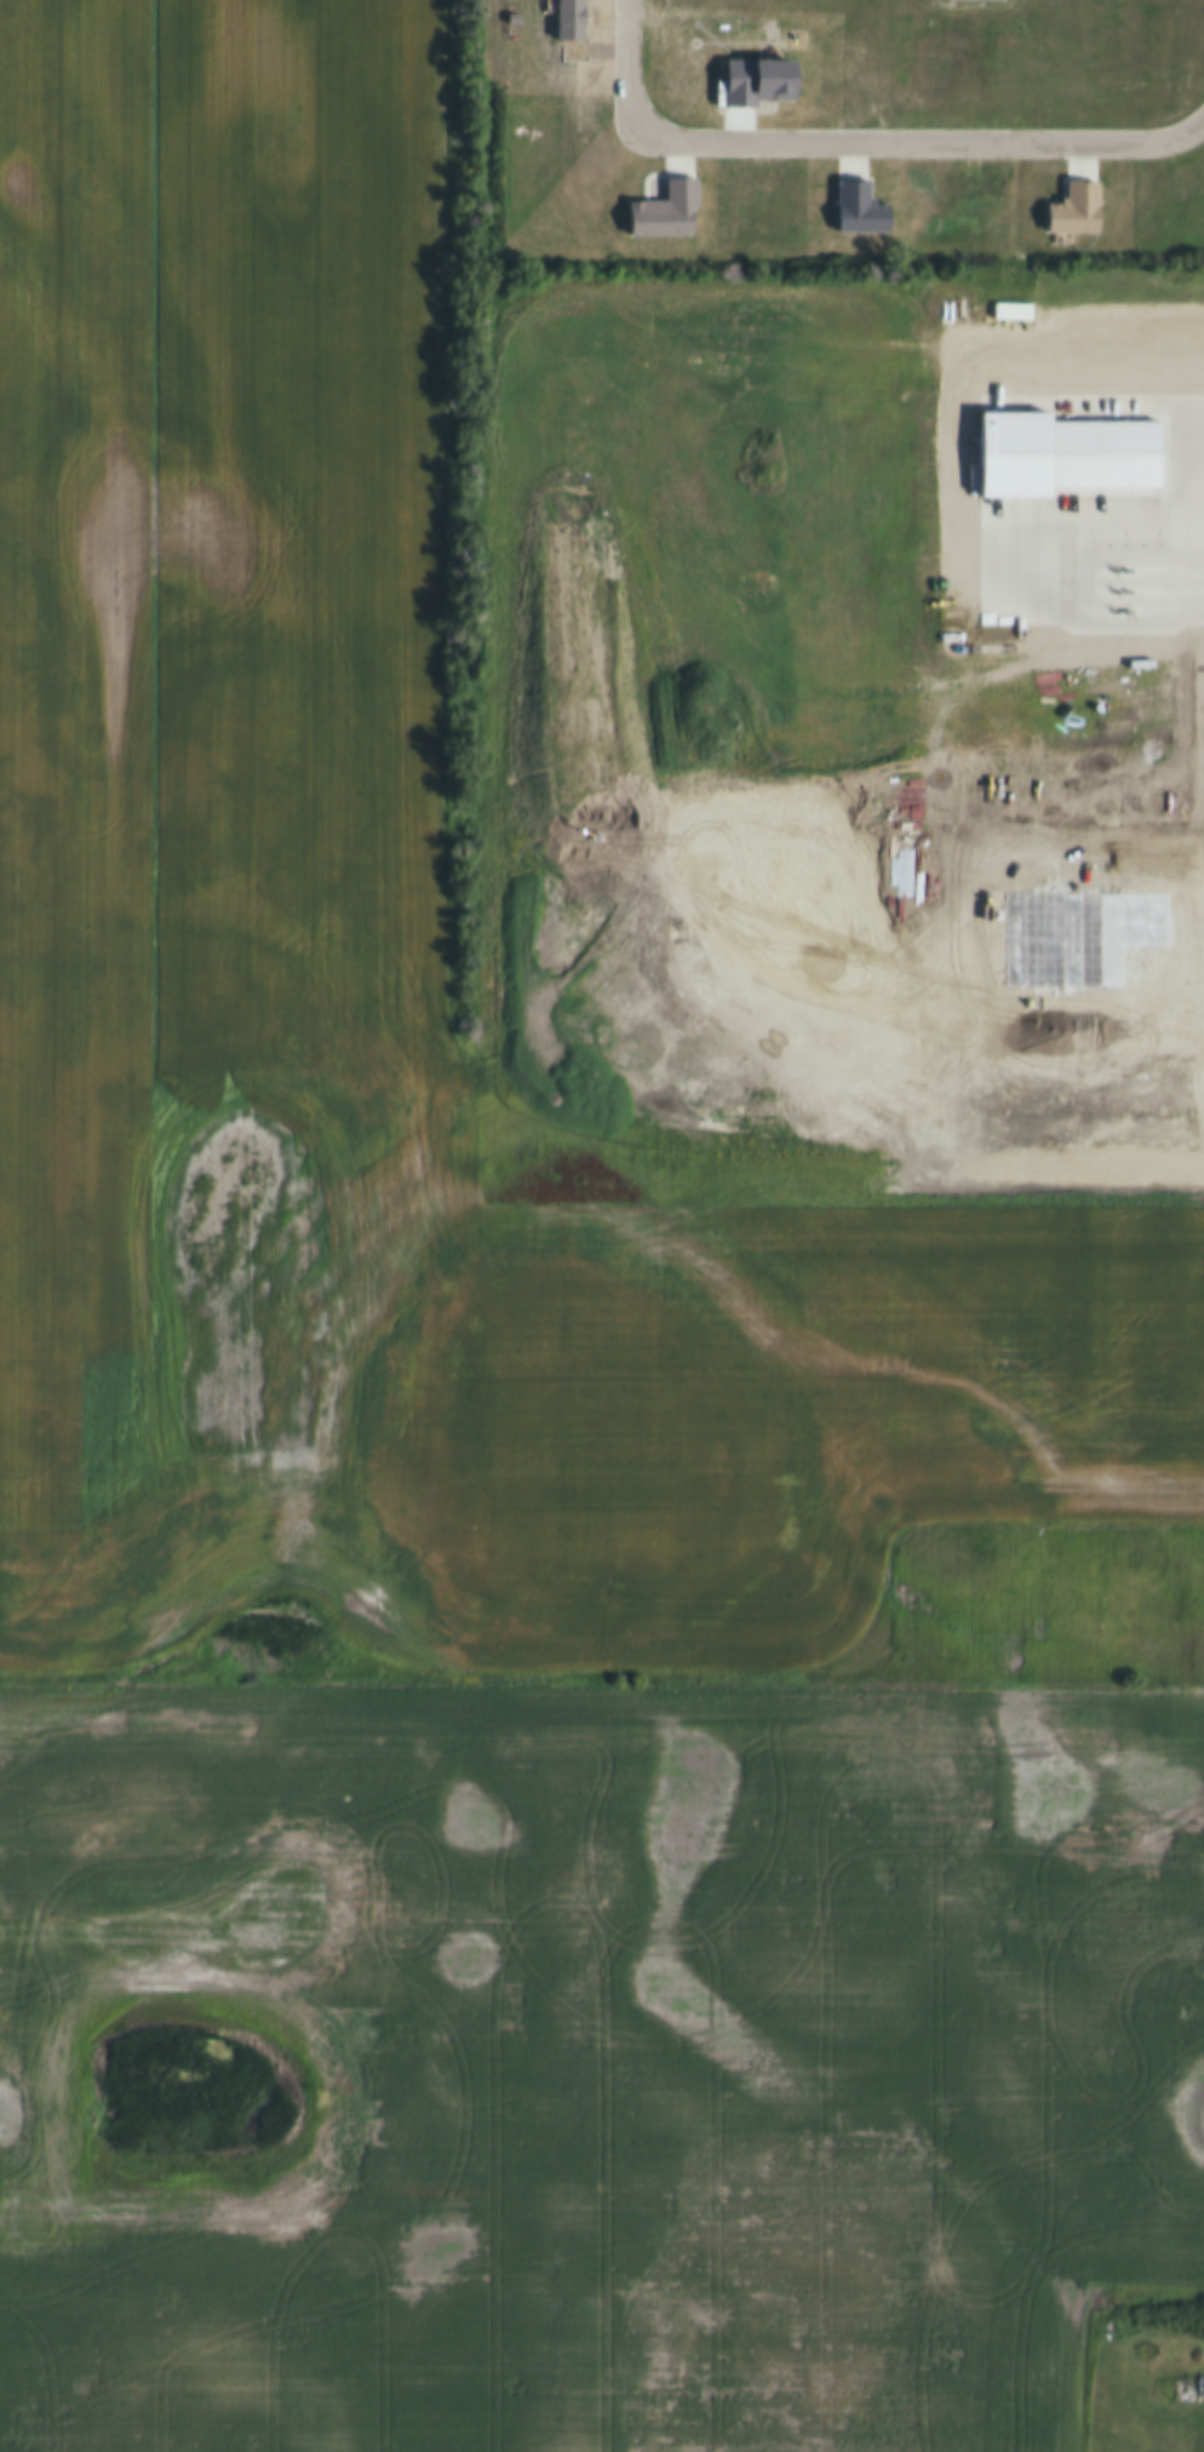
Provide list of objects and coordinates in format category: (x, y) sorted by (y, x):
building: (745, 69)
road: (862, 134)
building: (849, 196)
building: (1065, 197)
building: (654, 199)
road: (1194, 378)
building: (1049, 439)
road: (1183, 483)
road: (1096, 575)

